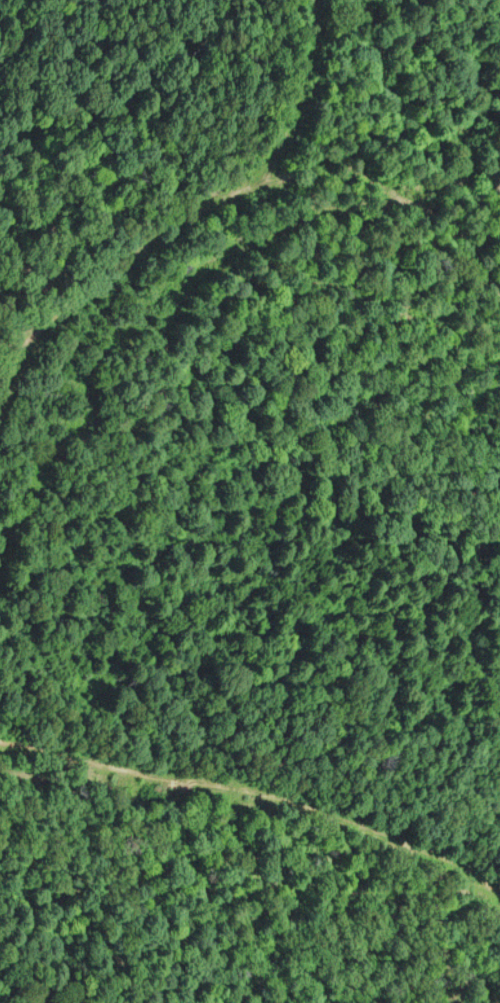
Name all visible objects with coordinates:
road: (165, 235)

